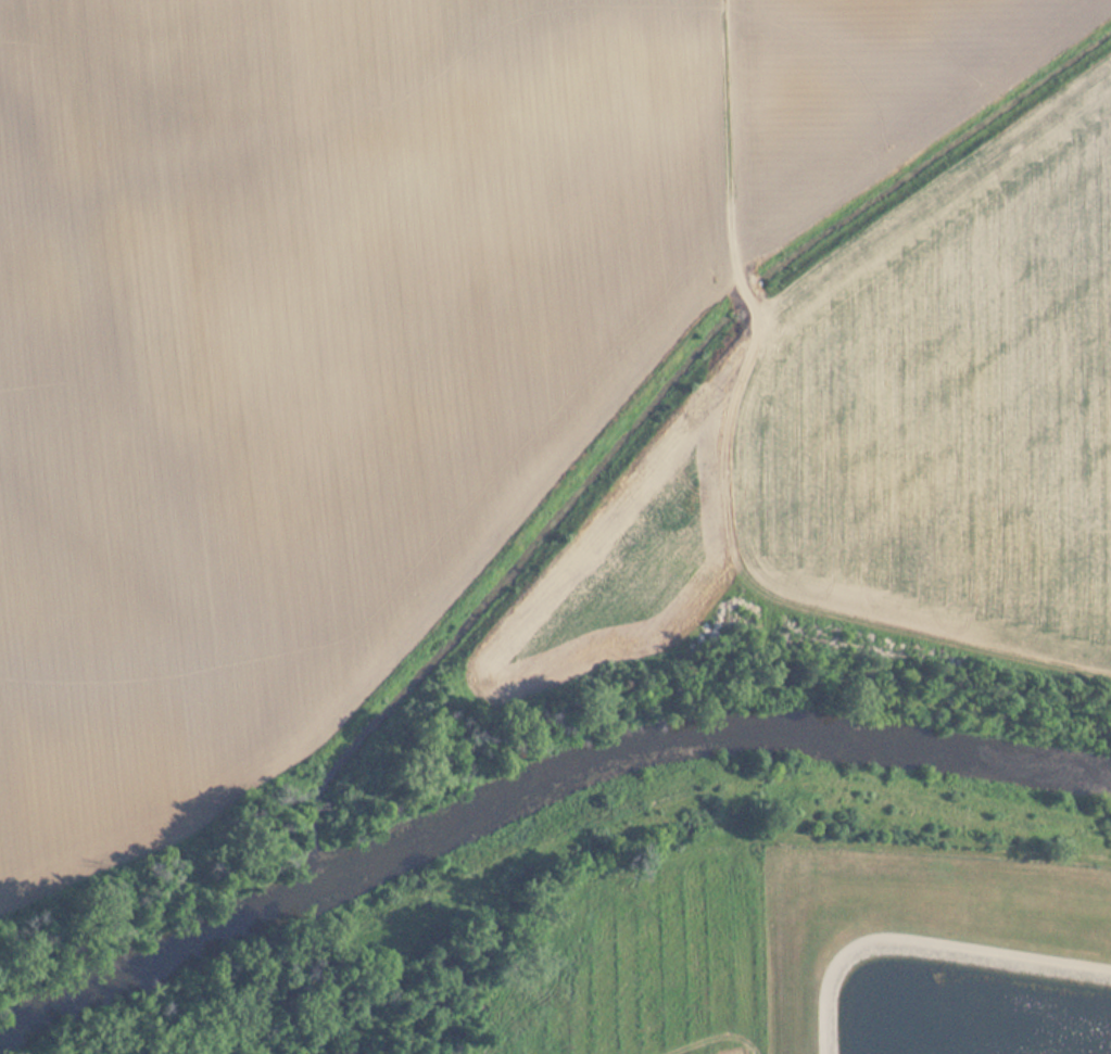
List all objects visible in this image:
river: (533, 780)

